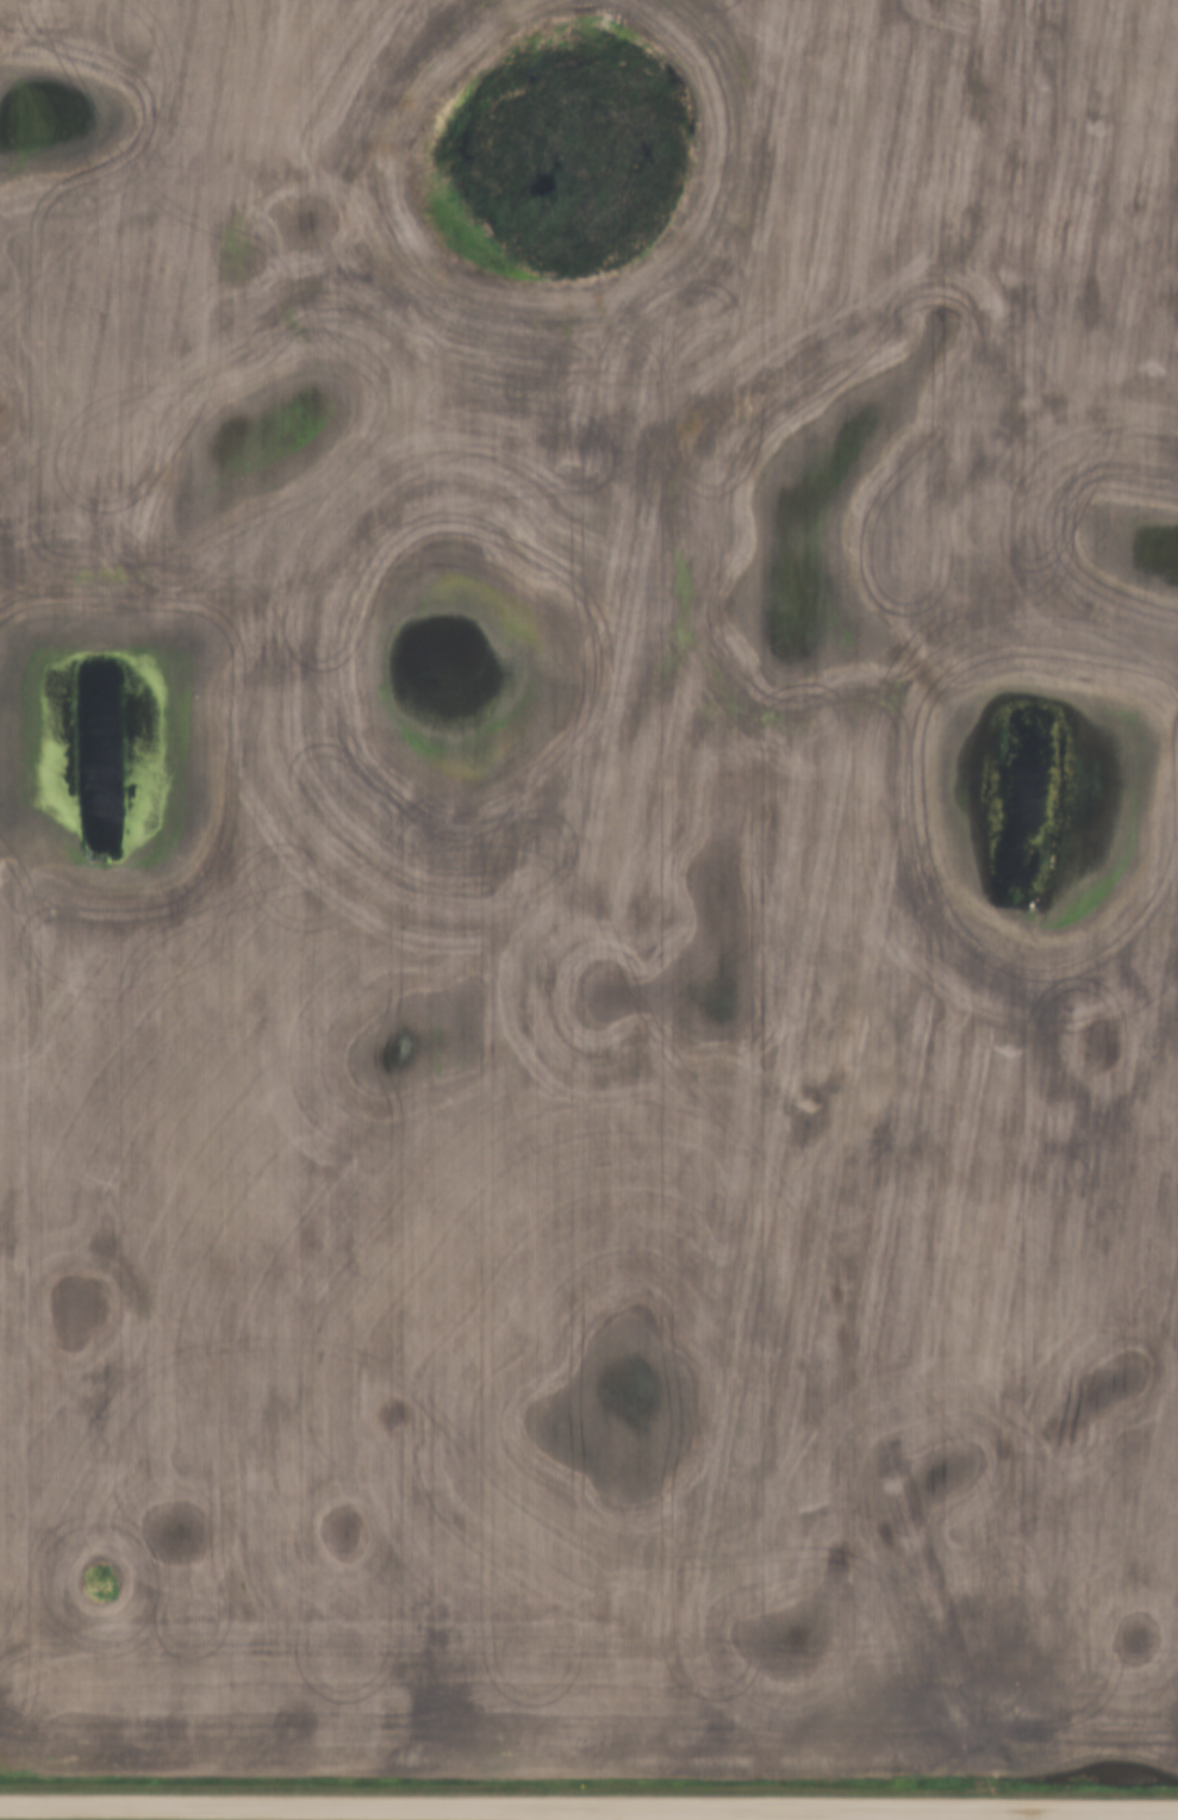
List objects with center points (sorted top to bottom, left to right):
road: (588, 1802)
road: (612, 1812)

